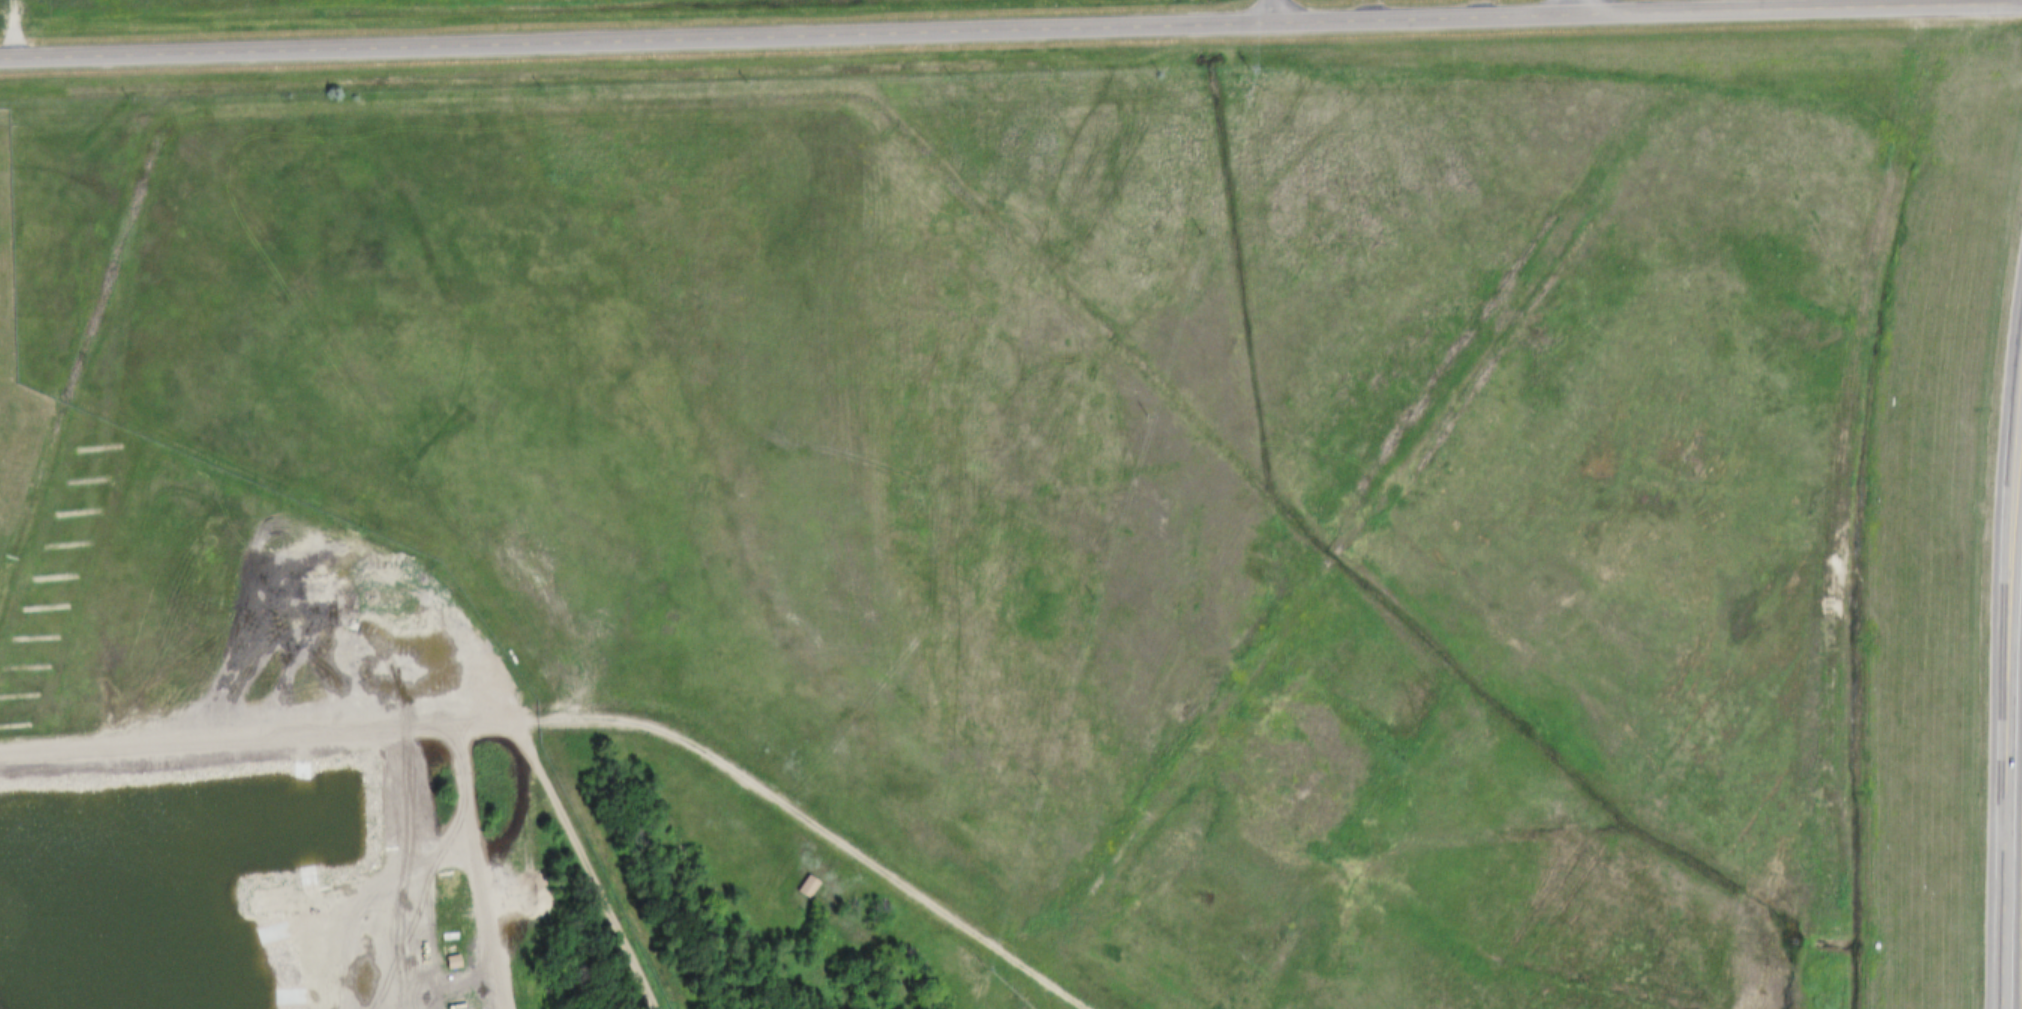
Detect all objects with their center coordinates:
road: (1564, 8)
road: (1278, 11)
road: (1010, 30)
road: (1376, 505)
building: (510, 710)
road: (589, 714)
building: (798, 885)
building: (809, 888)
building: (1254, 890)
road: (1053, 994)

